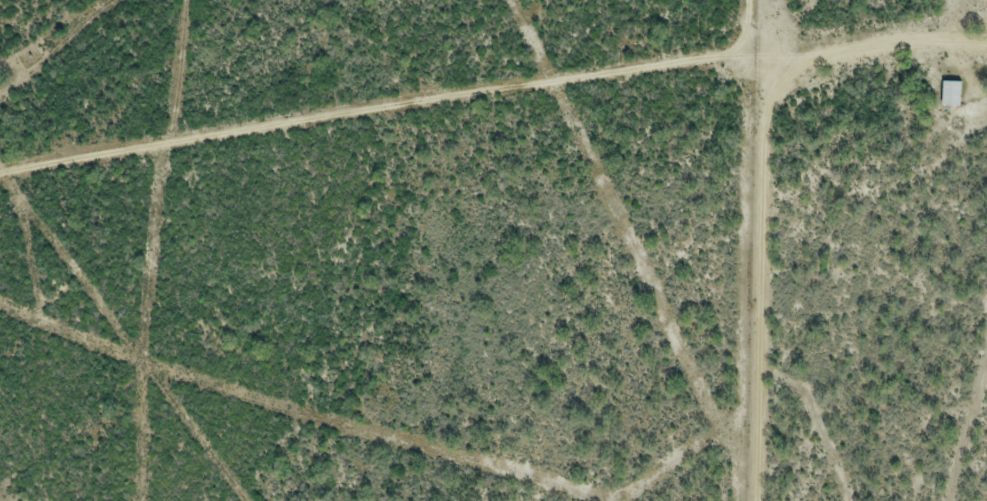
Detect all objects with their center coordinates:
building: (949, 93)
road: (759, 178)

